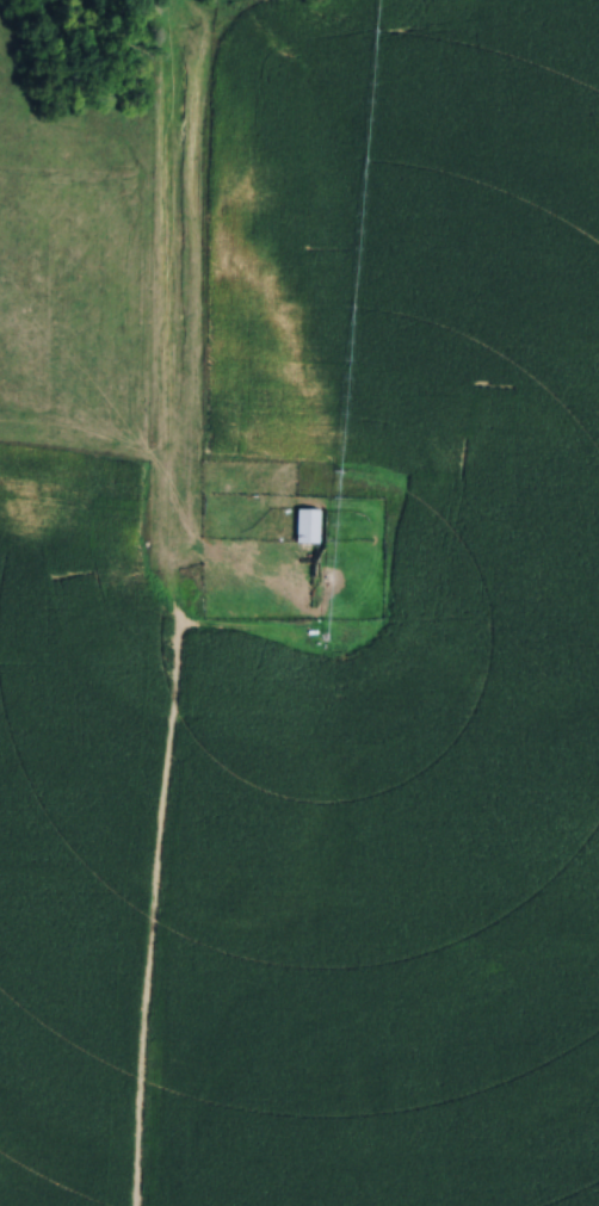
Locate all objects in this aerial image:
building: (302, 520)
road: (167, 602)

